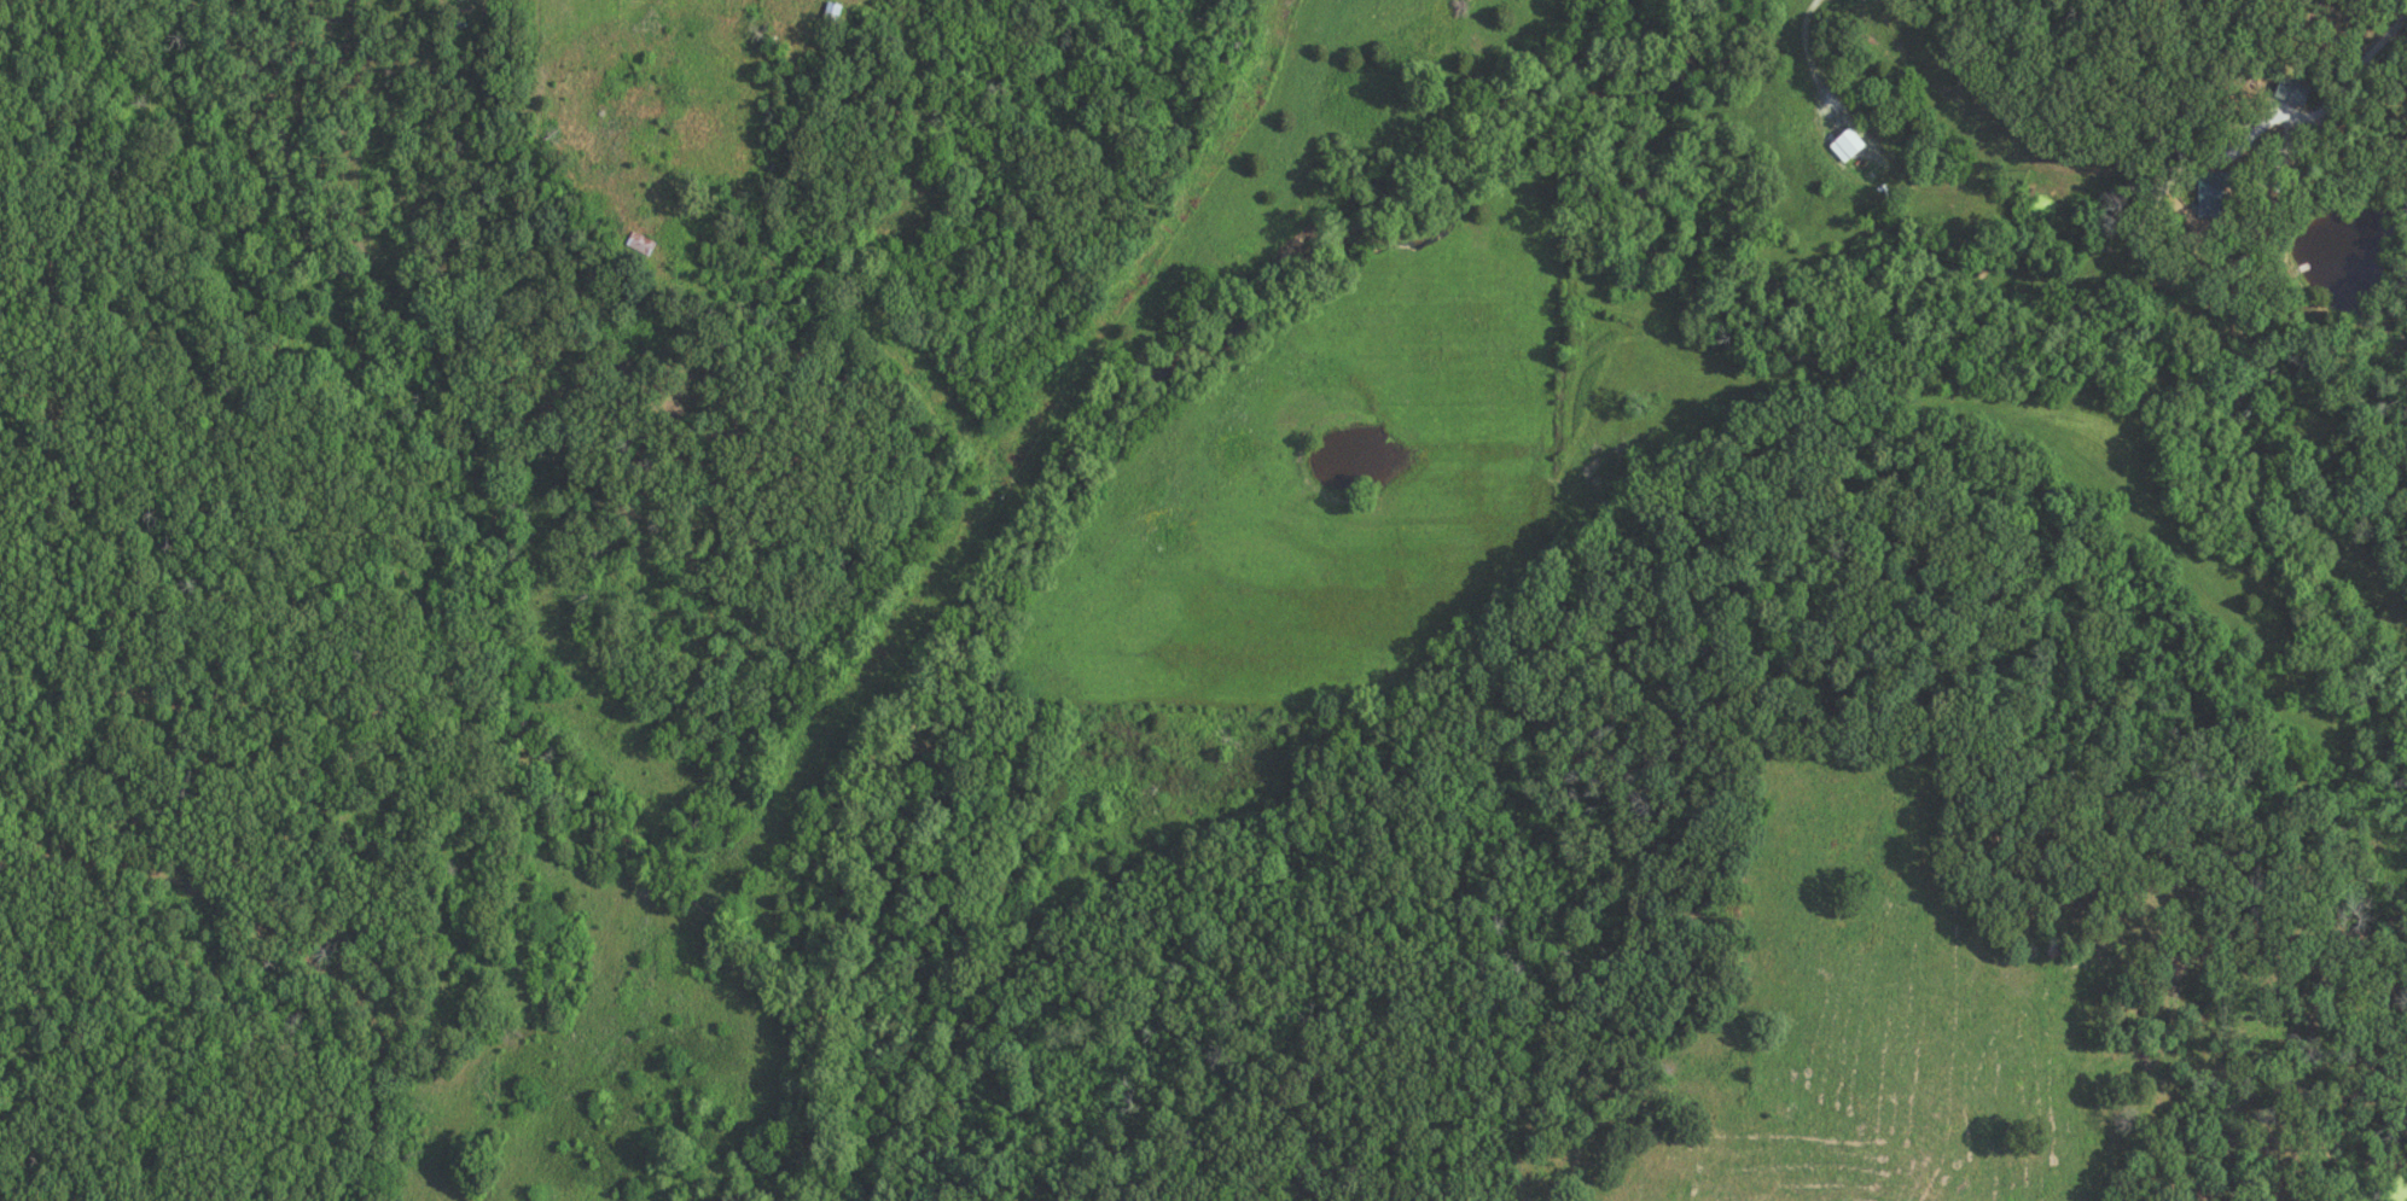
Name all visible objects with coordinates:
building: (831, 11)
road: (680, 81)
road: (2310, 86)
road: (920, 94)
building: (636, 243)
road: (223, 897)

